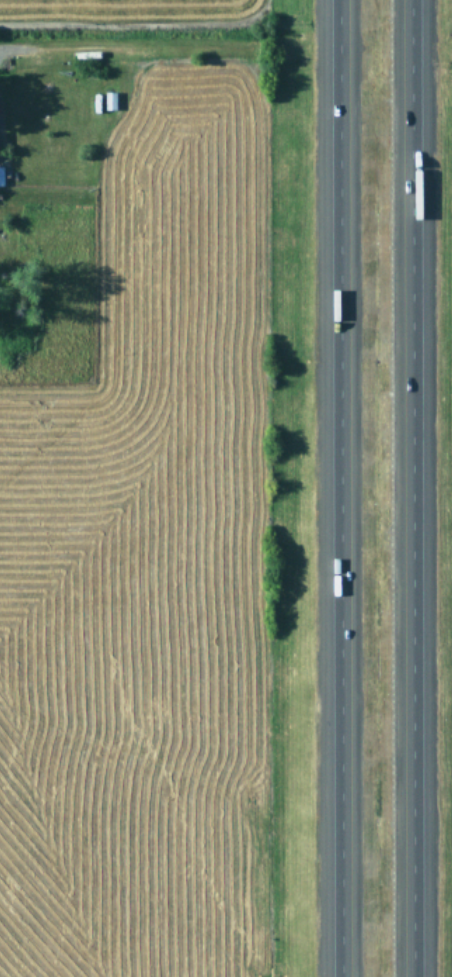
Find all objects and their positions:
crop: (133, 488)
road: (352, 488)
road: (413, 488)

